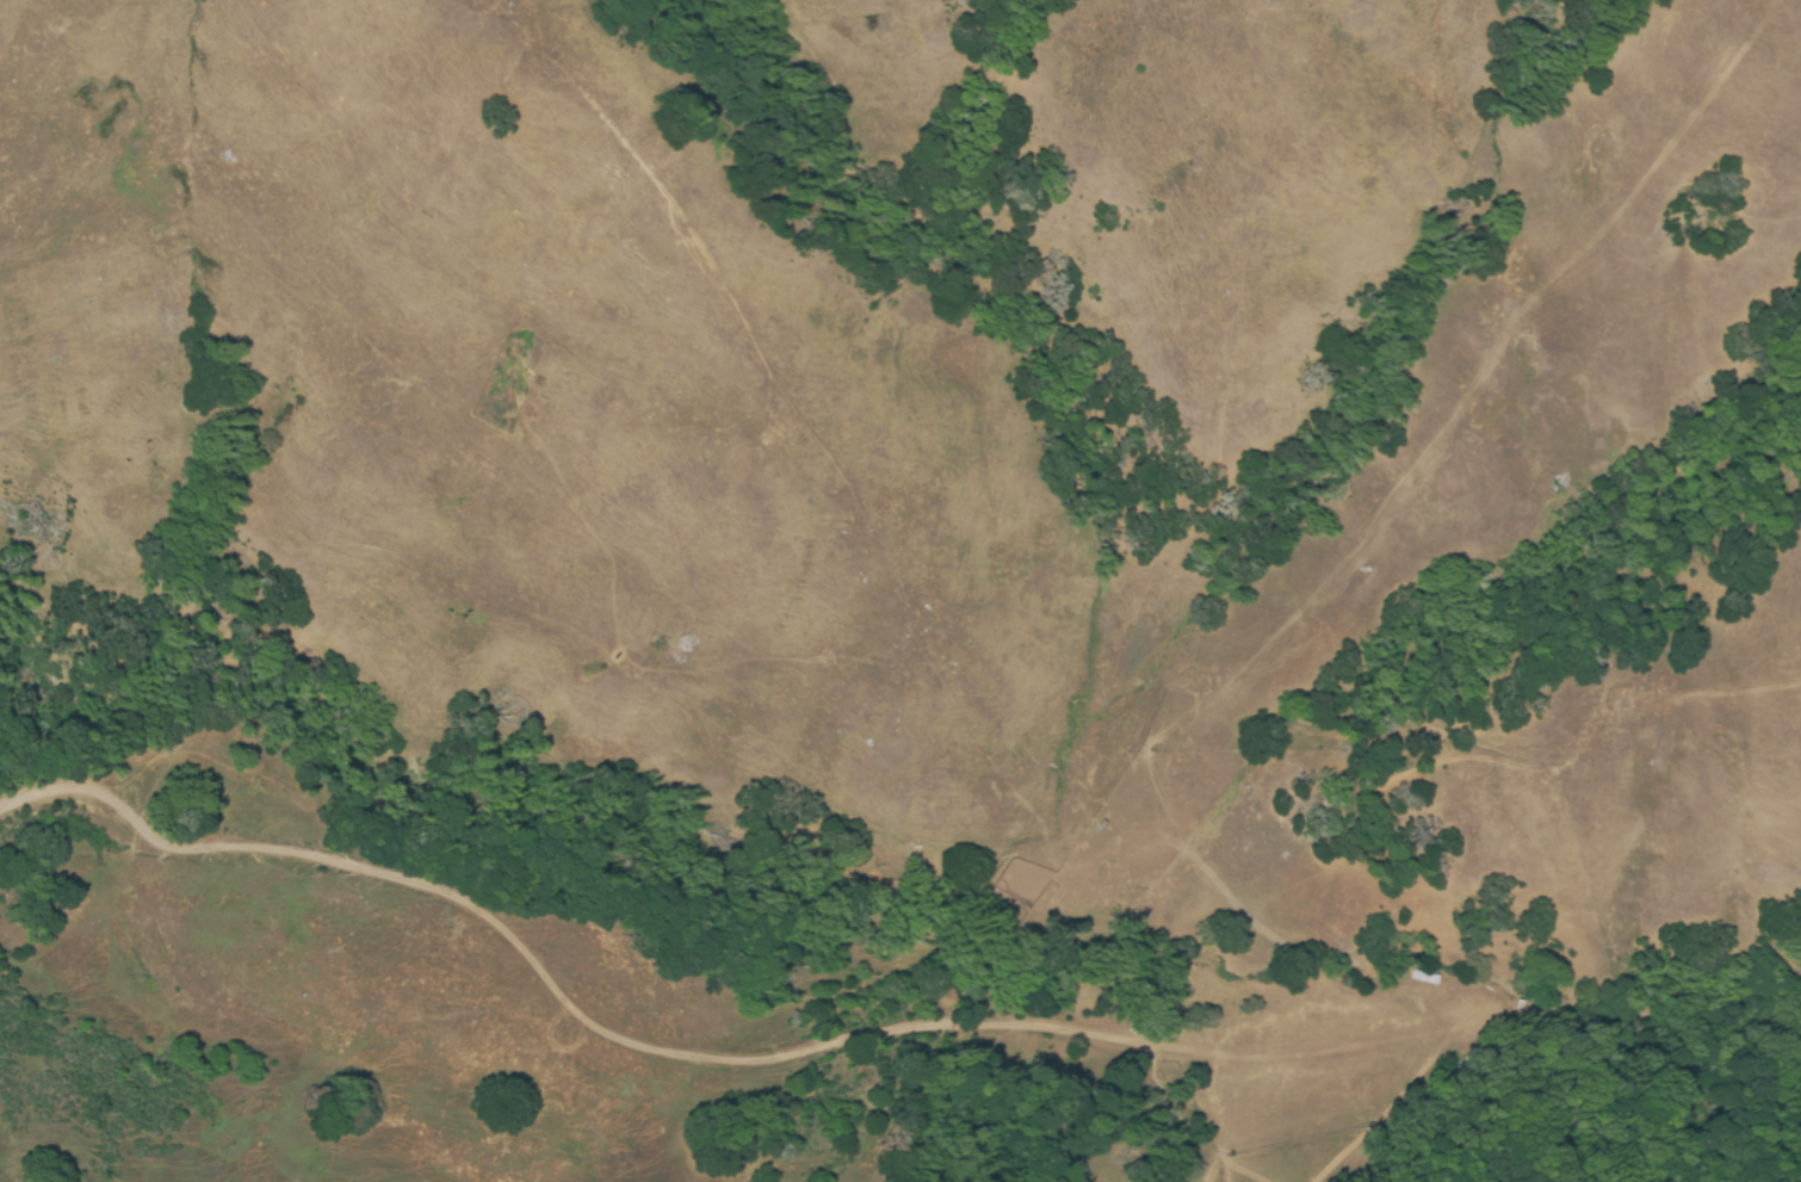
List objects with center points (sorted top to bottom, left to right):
road: (322, 910)

